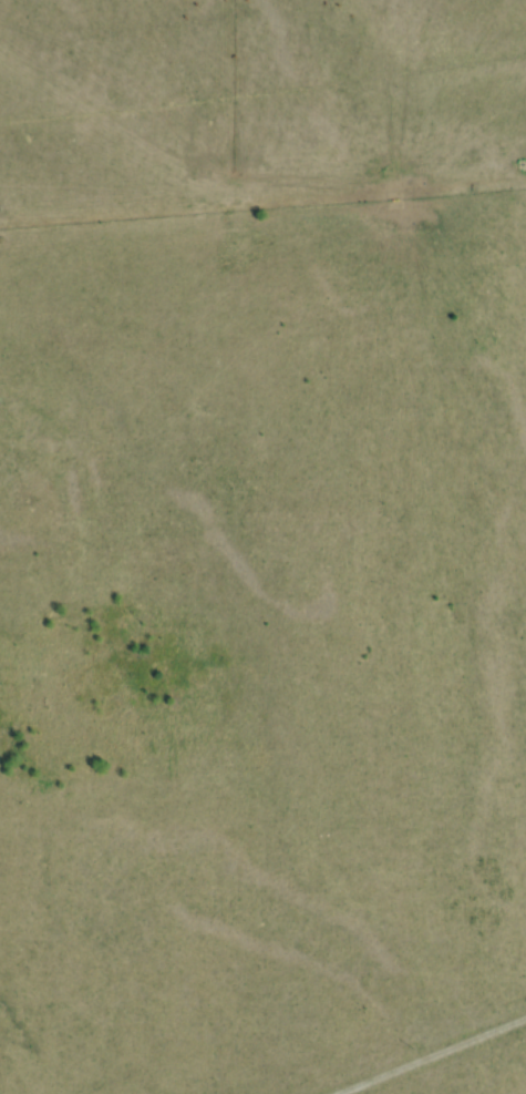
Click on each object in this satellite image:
road: (435, 1057)

